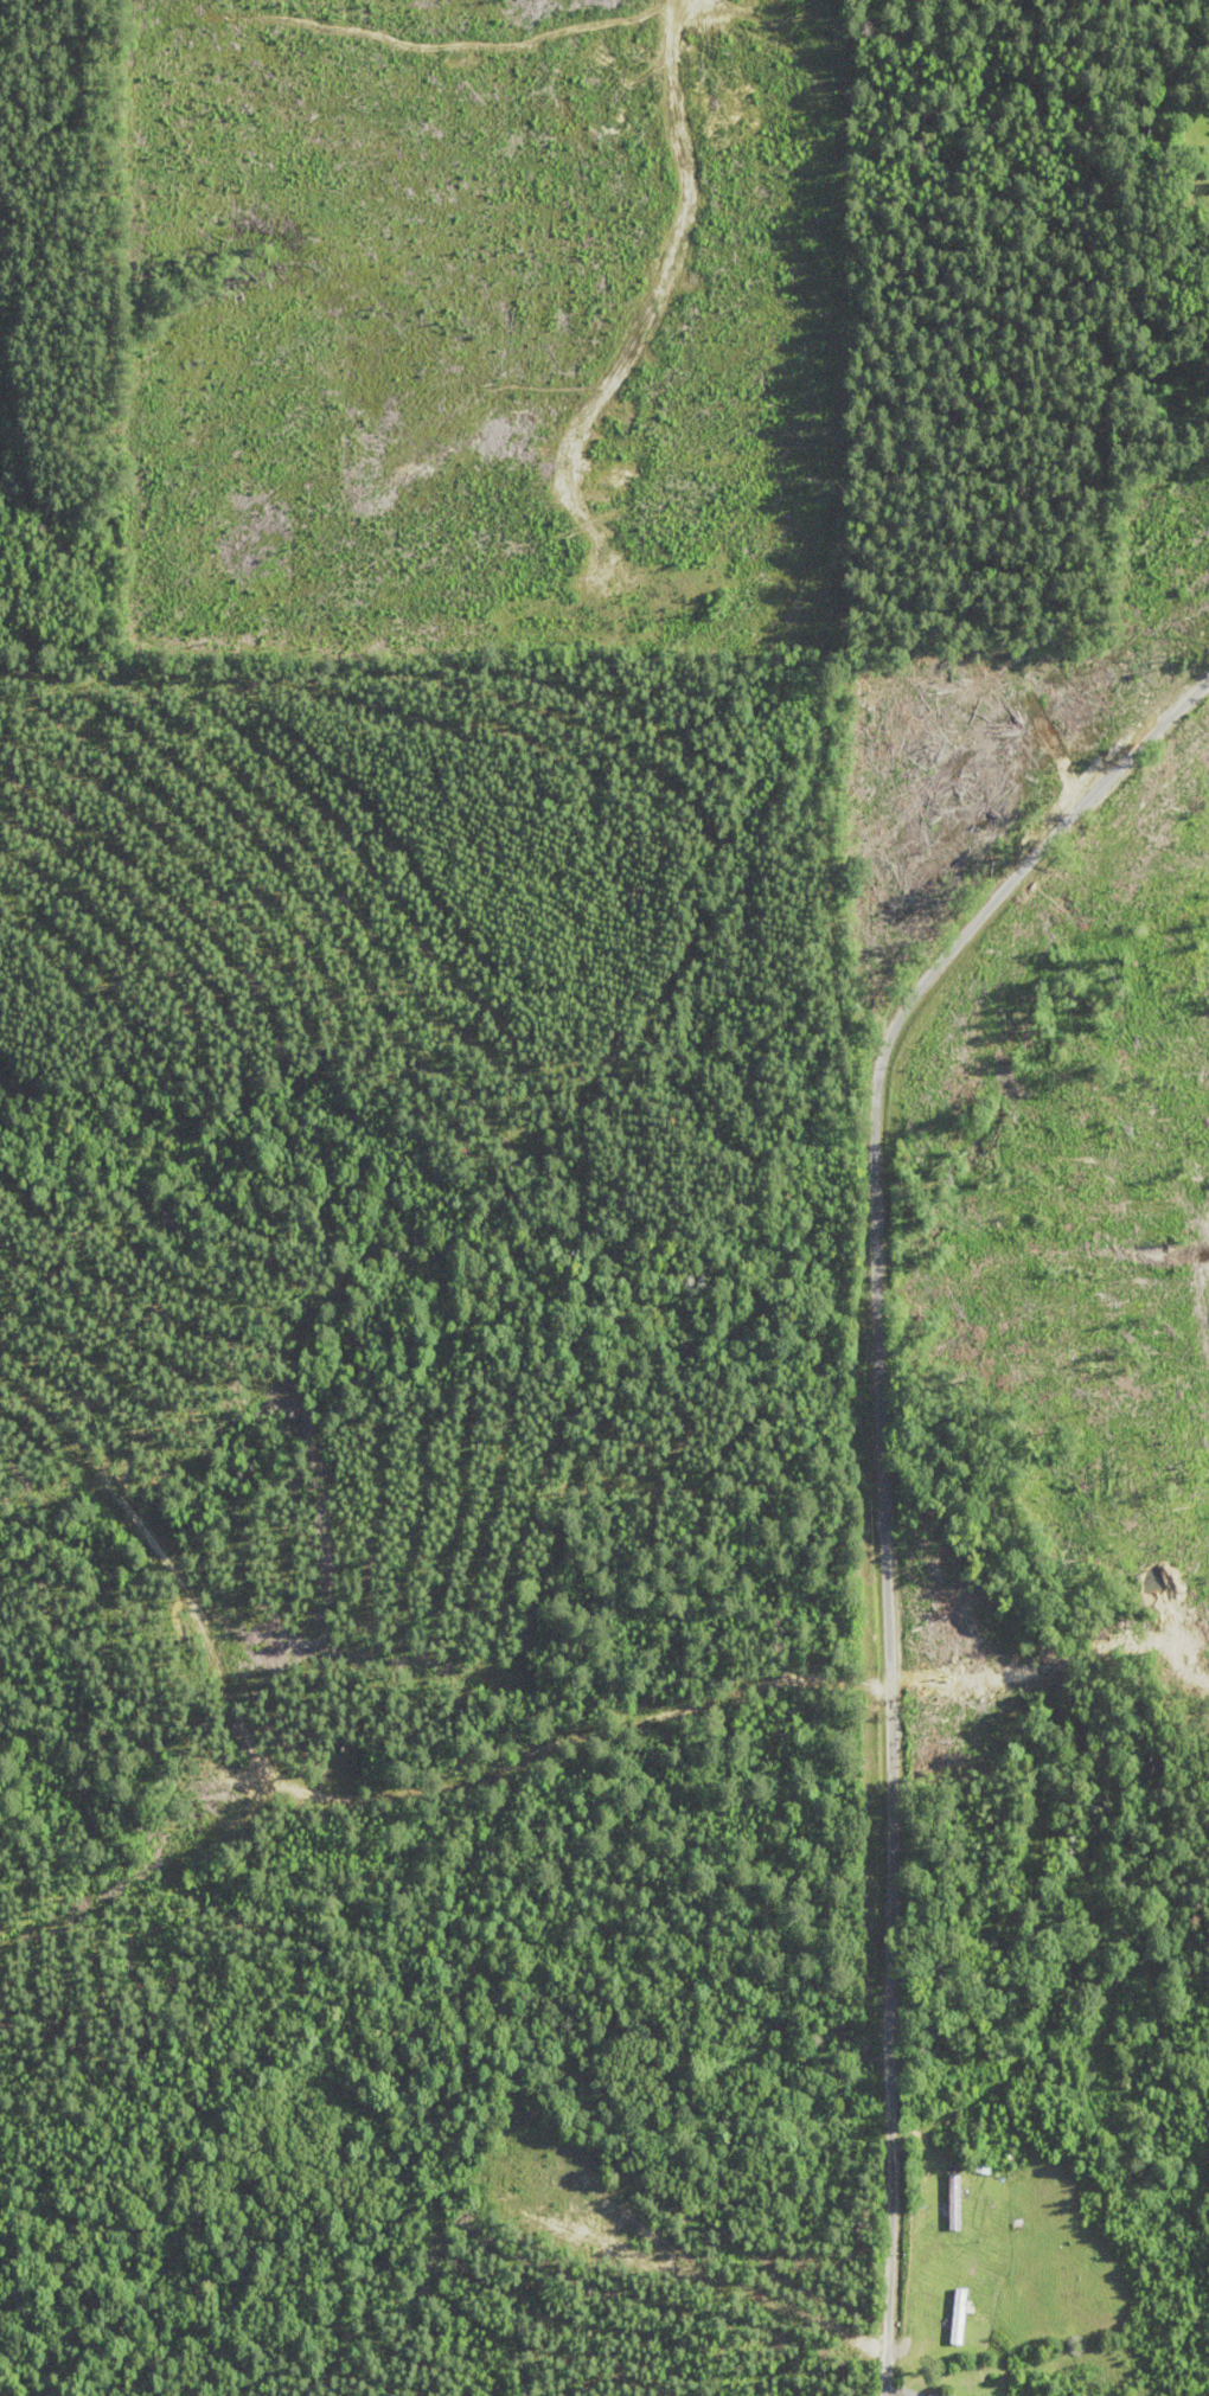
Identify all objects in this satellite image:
road: (888, 1486)
building: (941, 2395)

